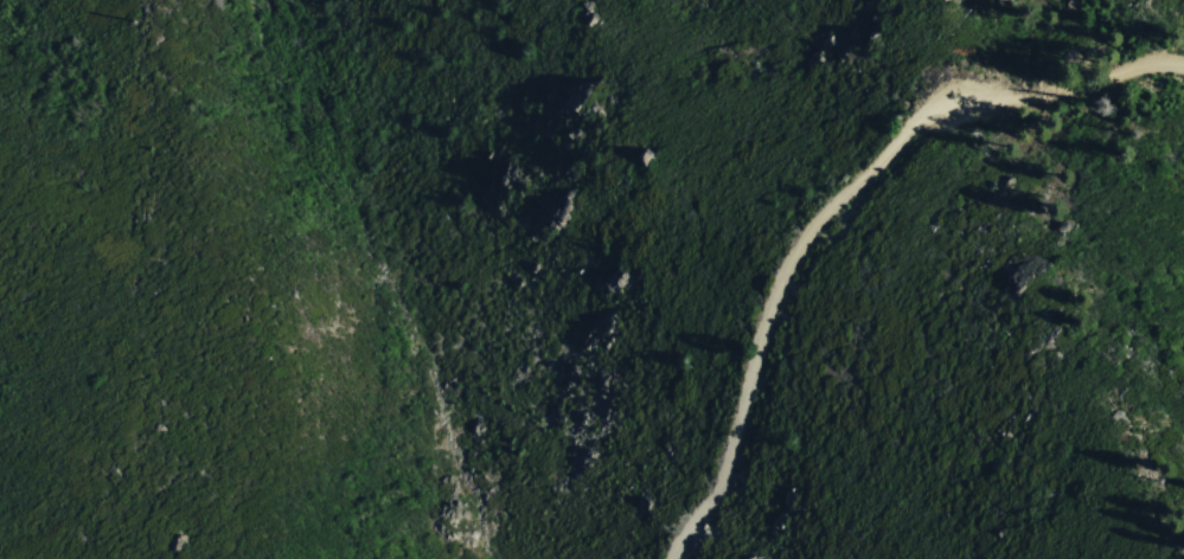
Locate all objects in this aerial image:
road: (849, 227)

